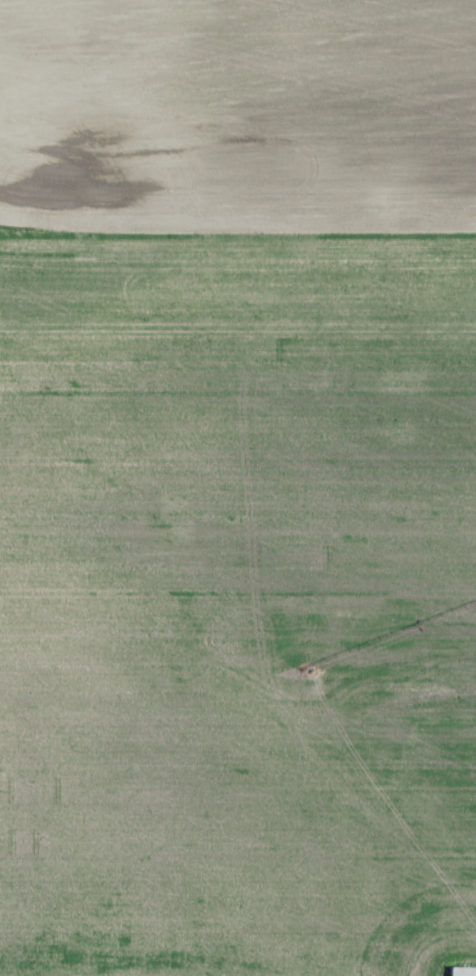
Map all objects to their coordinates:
building: (462, 971)

